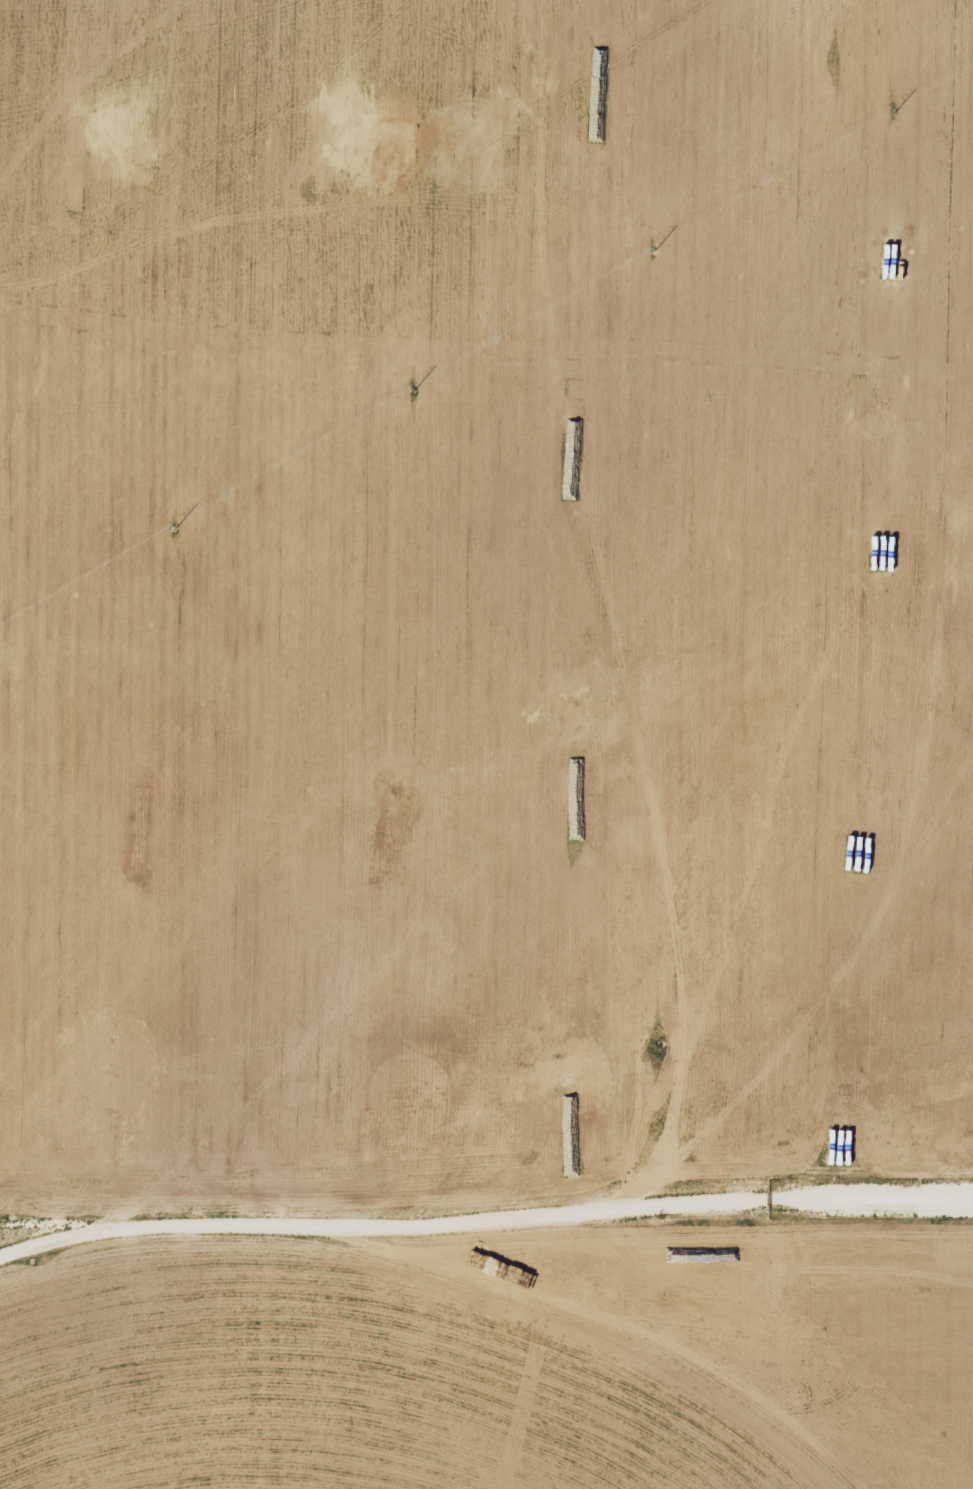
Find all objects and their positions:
power tower: (765, 180)
power tower: (495, 336)
power tower: (226, 492)

